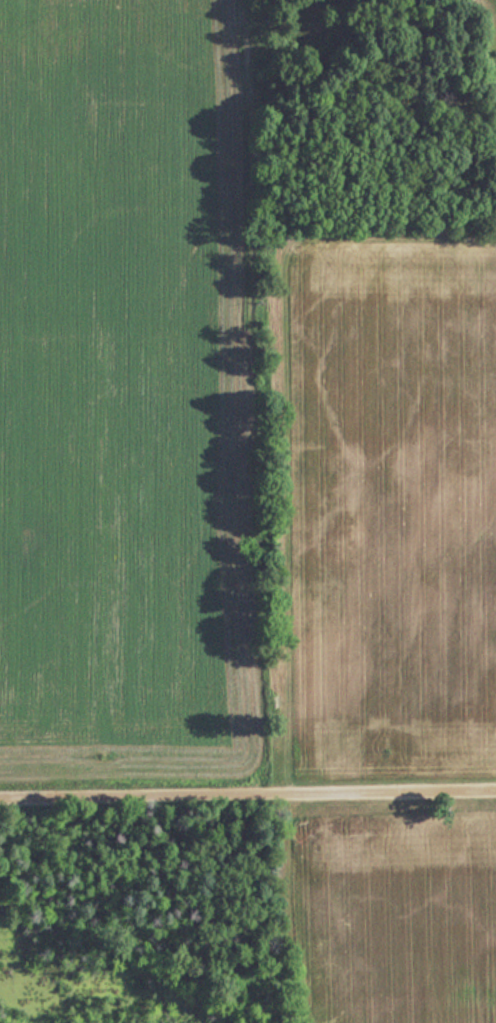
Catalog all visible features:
road: (247, 794)

